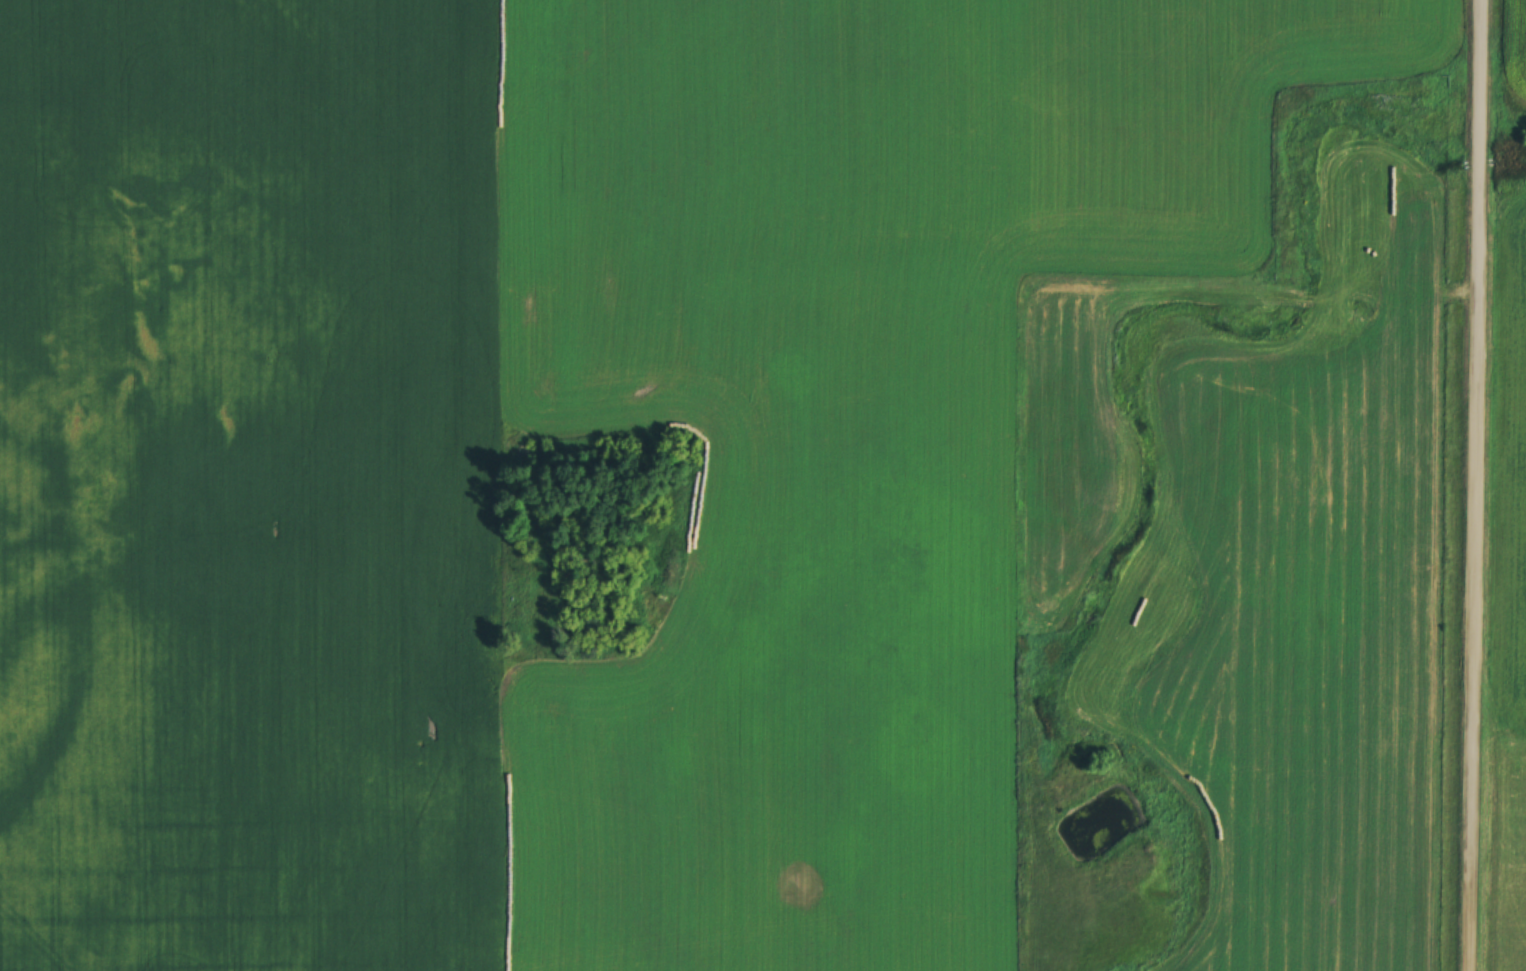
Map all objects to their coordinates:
road: (1484, 485)

